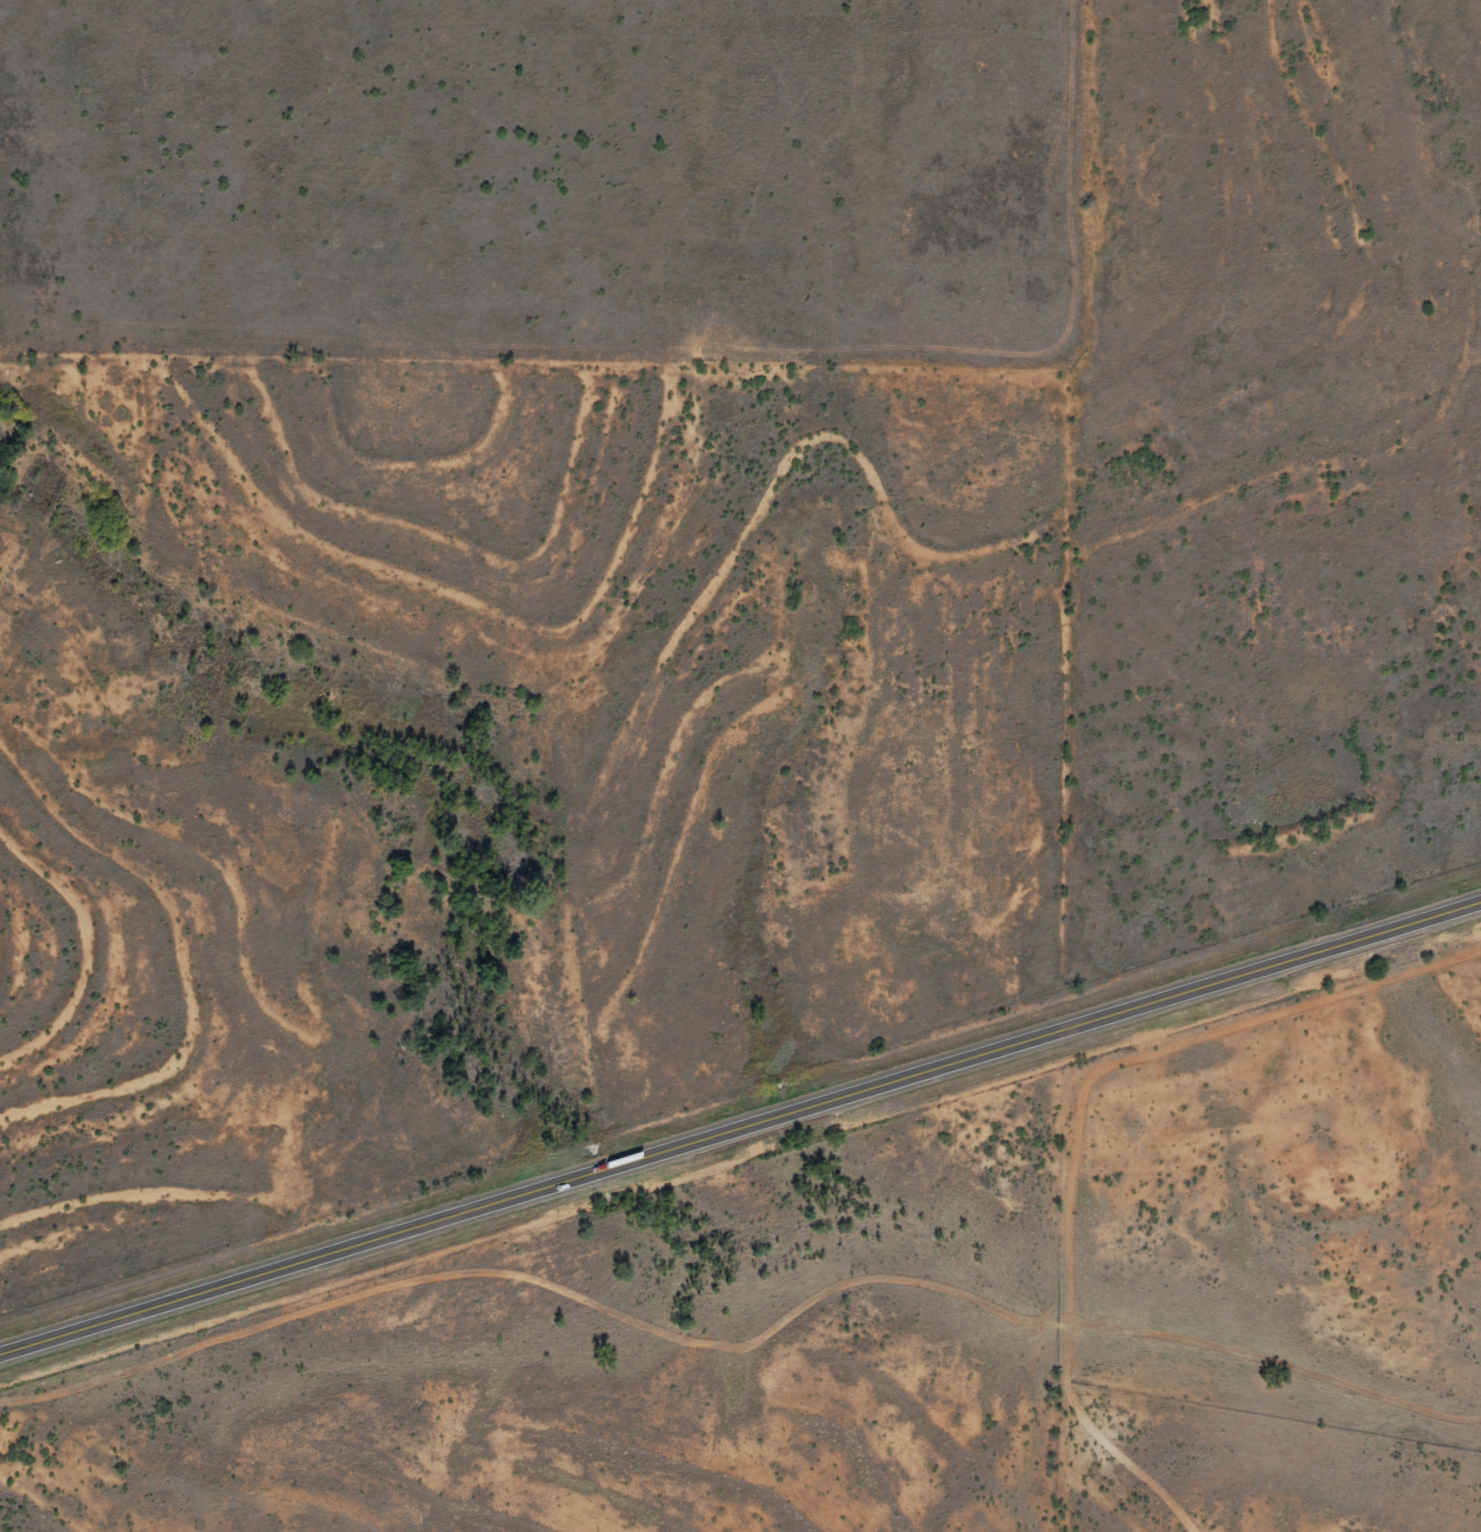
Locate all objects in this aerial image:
road: (740, 1122)

